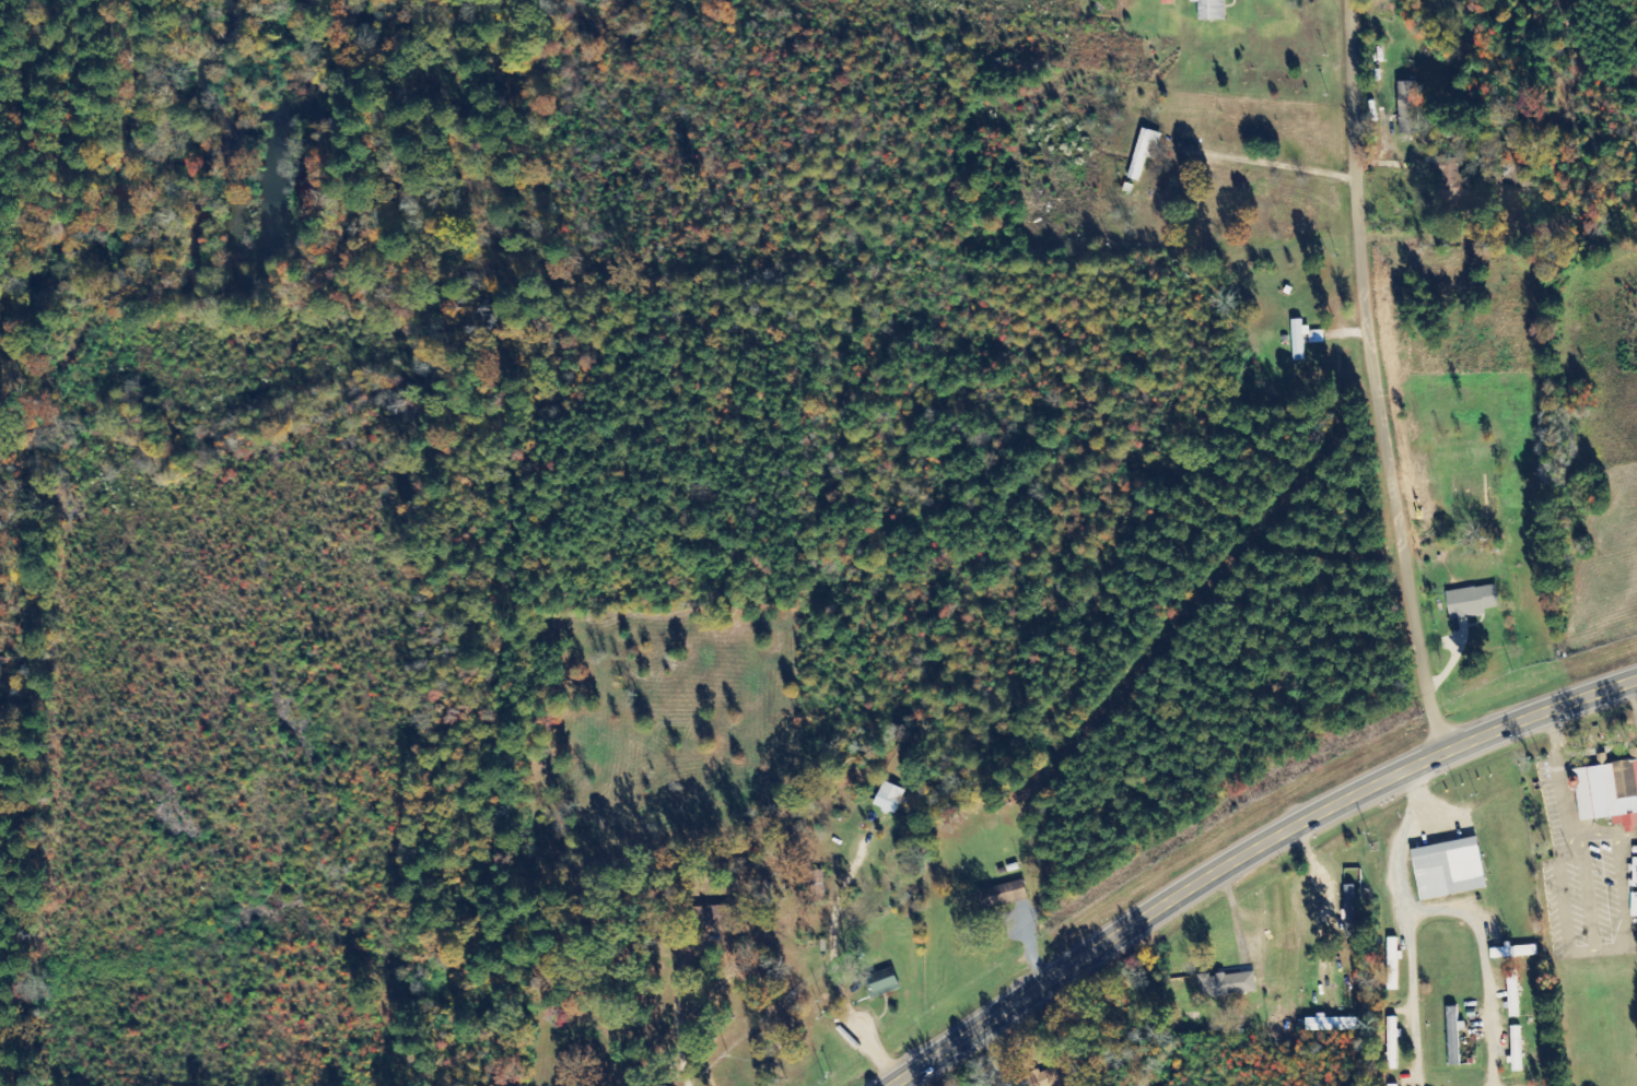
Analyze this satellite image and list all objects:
building: (1167, 2)
building: (1211, 10)
building: (1408, 108)
building: (1144, 152)
building: (1317, 339)
road: (1373, 378)
building: (1471, 601)
building: (1609, 791)
building: (889, 798)
road: (1247, 851)
building: (1449, 869)
building: (1635, 872)
building: (1003, 895)
building: (1634, 905)
building: (1348, 910)
building: (705, 916)
building: (1392, 963)
building: (882, 982)
building: (1227, 984)
building: (1512, 993)
building: (1331, 1024)
building: (1453, 1035)
building: (1392, 1043)
building: (1516, 1049)
building: (1044, 1078)
building: (1392, 1085)

